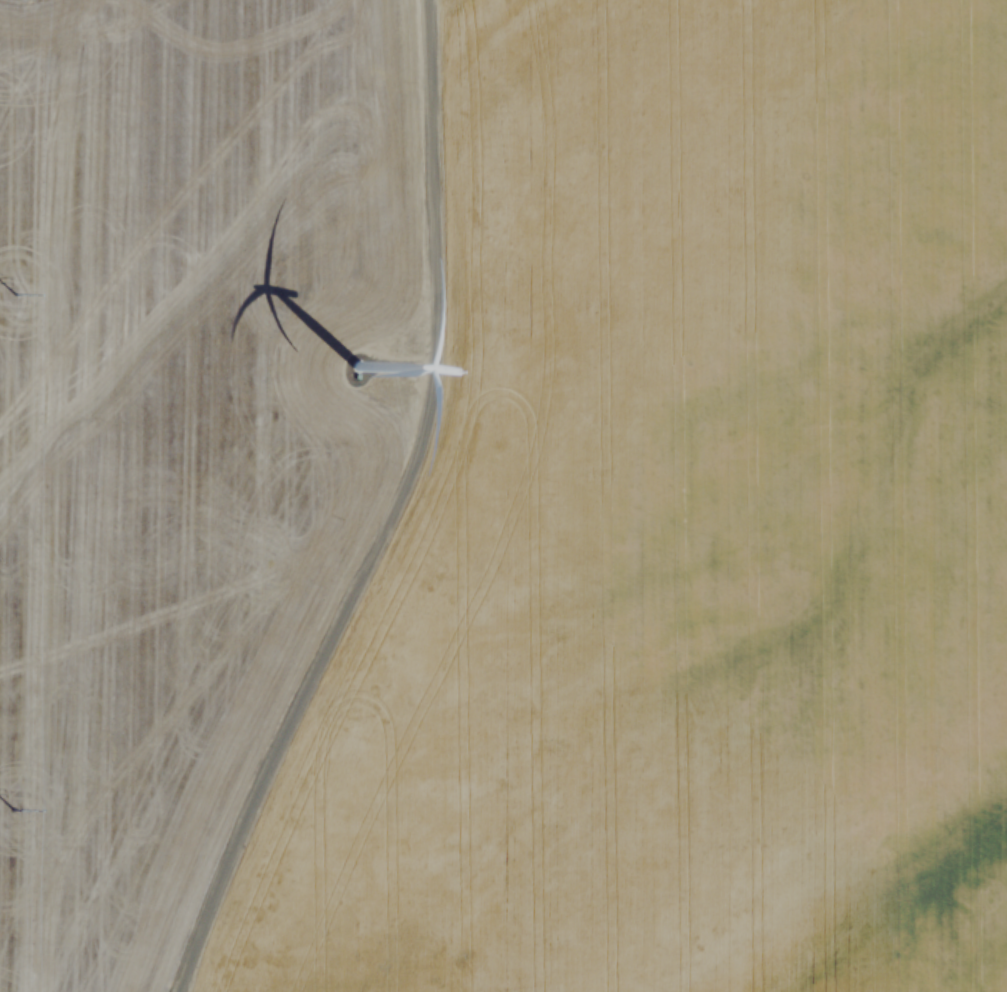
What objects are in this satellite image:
power tower: (7, 304)
wind turbine: (348, 369)
road: (376, 513)
power tower: (13, 814)

